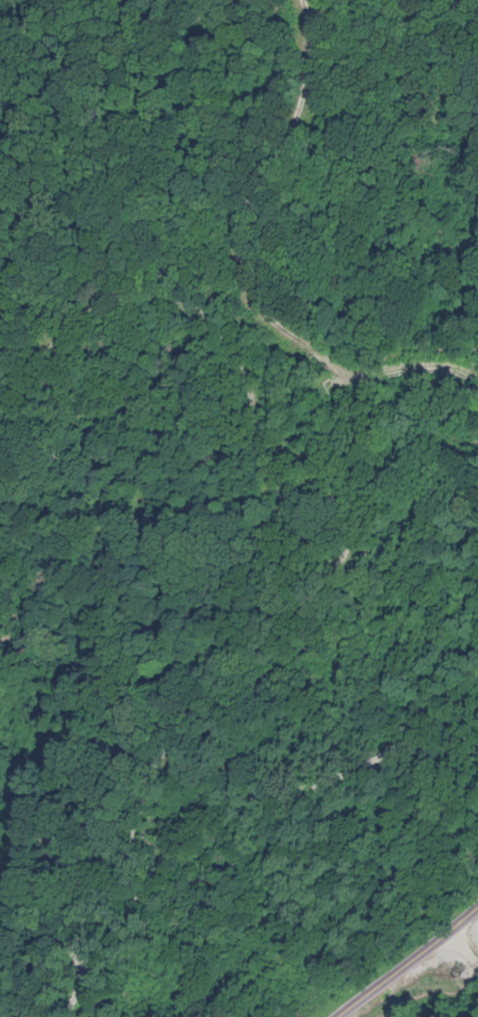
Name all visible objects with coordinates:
road: (241, 383)
road: (461, 949)
road: (405, 960)

